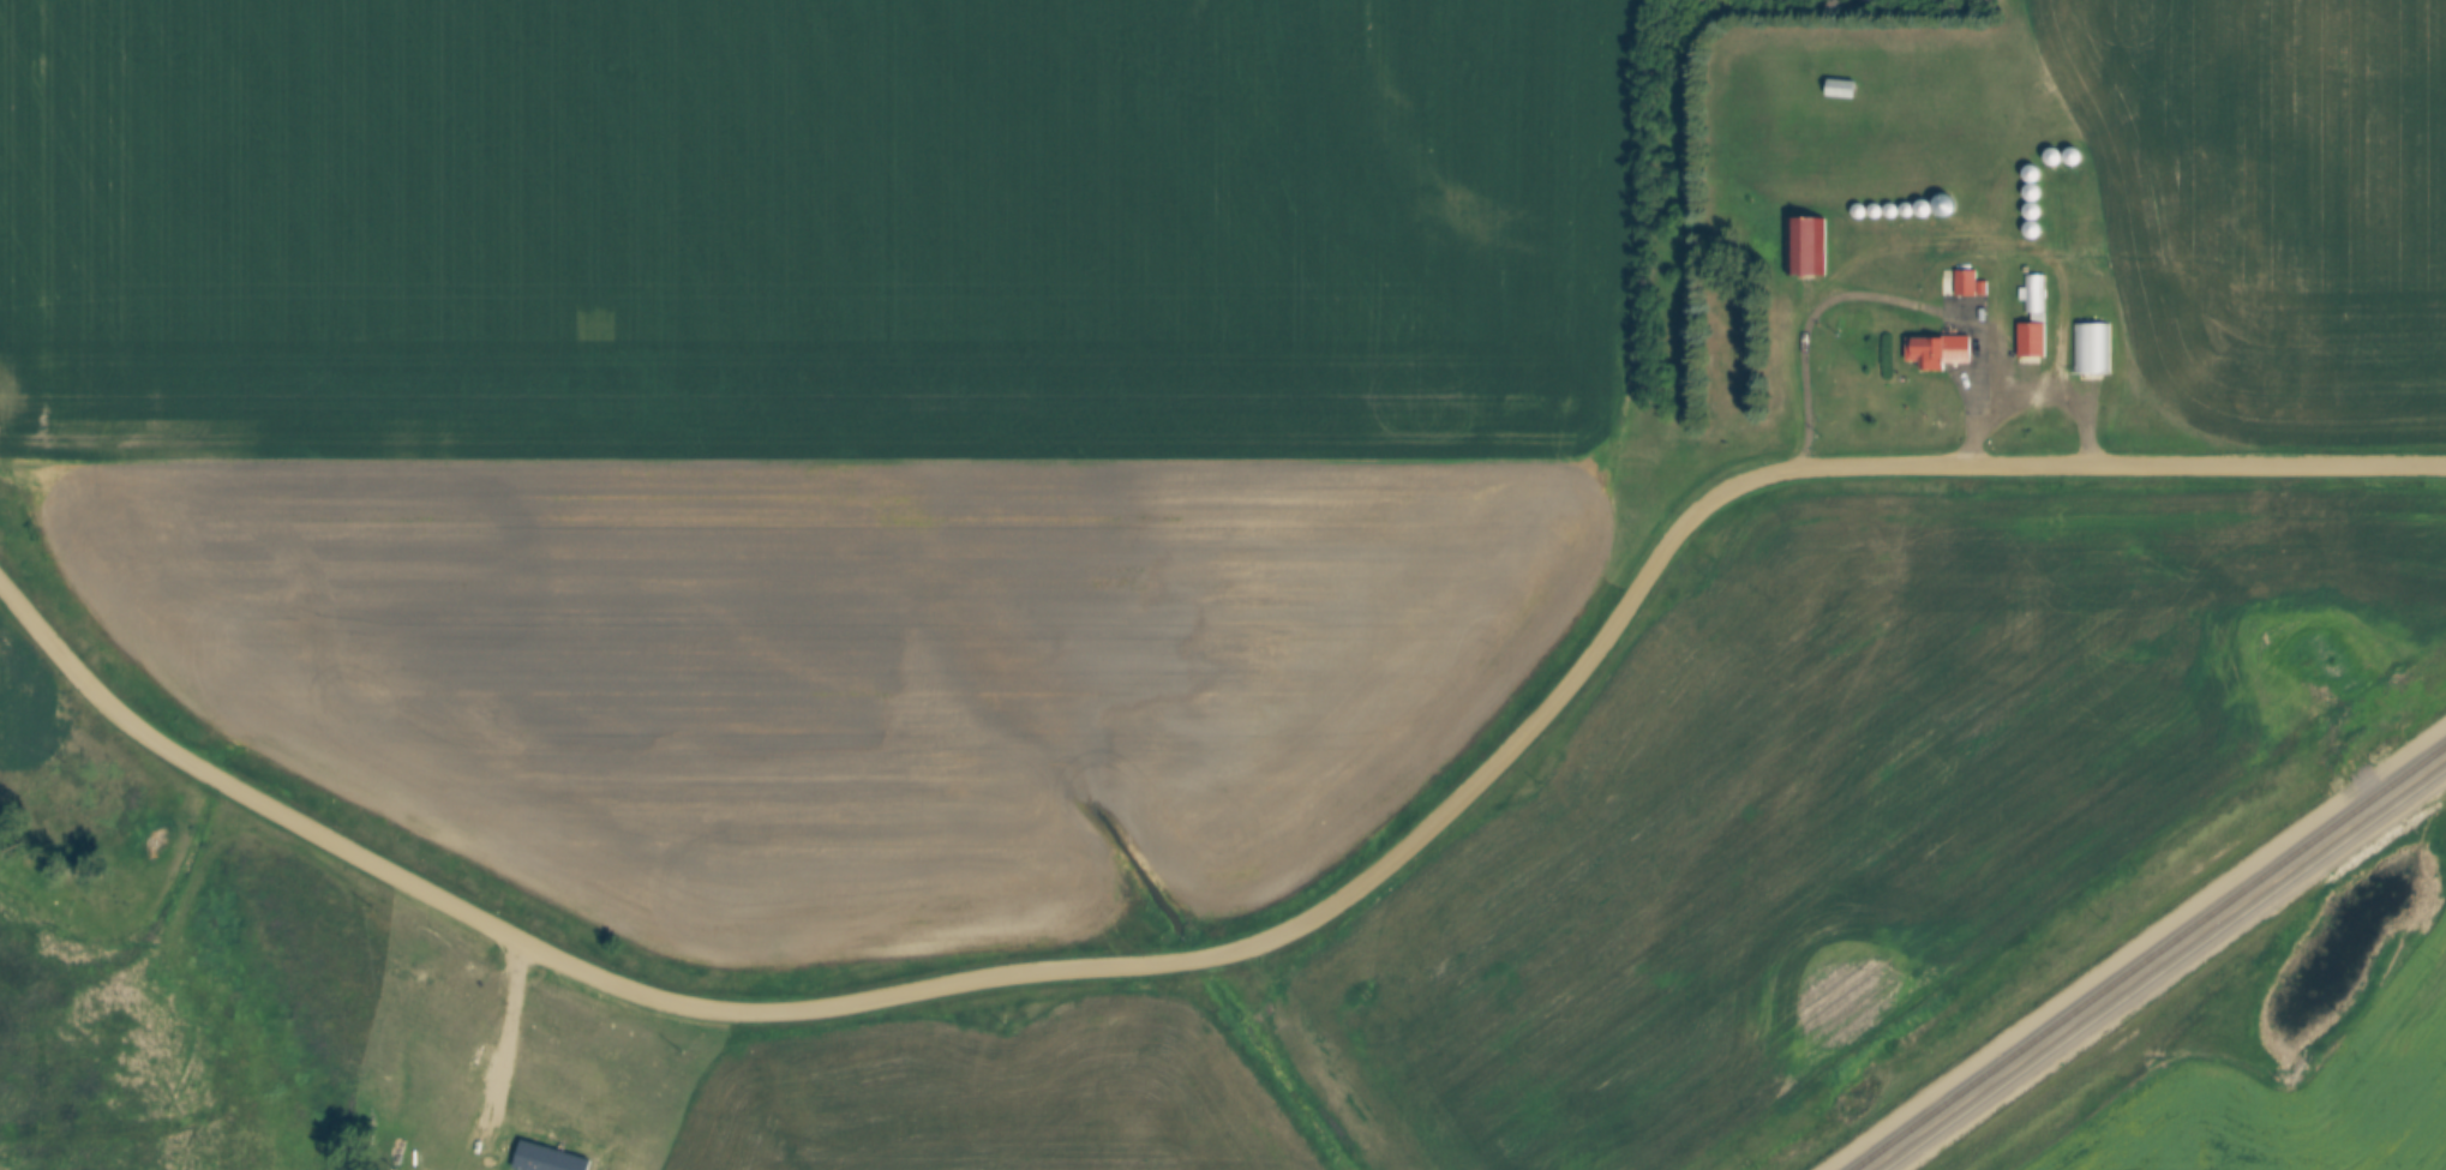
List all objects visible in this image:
building: (1842, 89)
building: (1803, 247)
building: (1967, 283)
road: (1908, 304)
building: (2033, 340)
building: (2088, 350)
building: (1941, 352)
road: (1253, 946)
railway: (2151, 960)
railway: (2170, 973)

